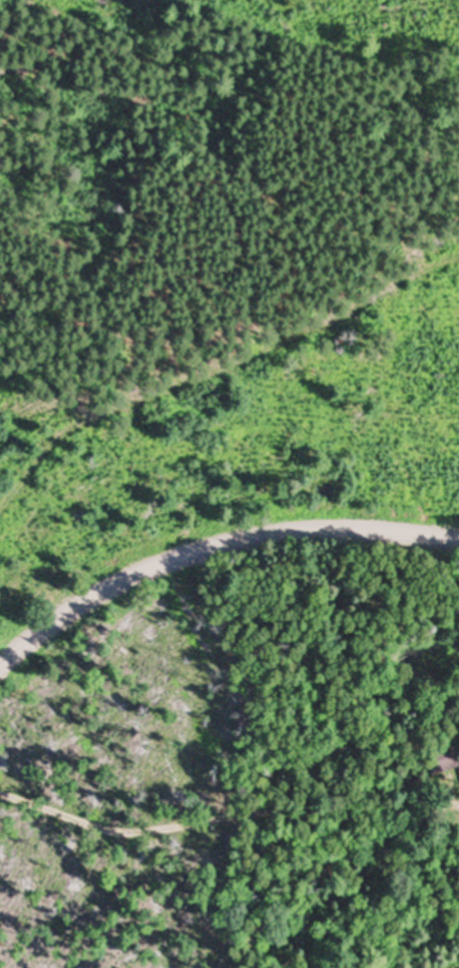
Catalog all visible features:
road: (213, 544)
building: (443, 758)

